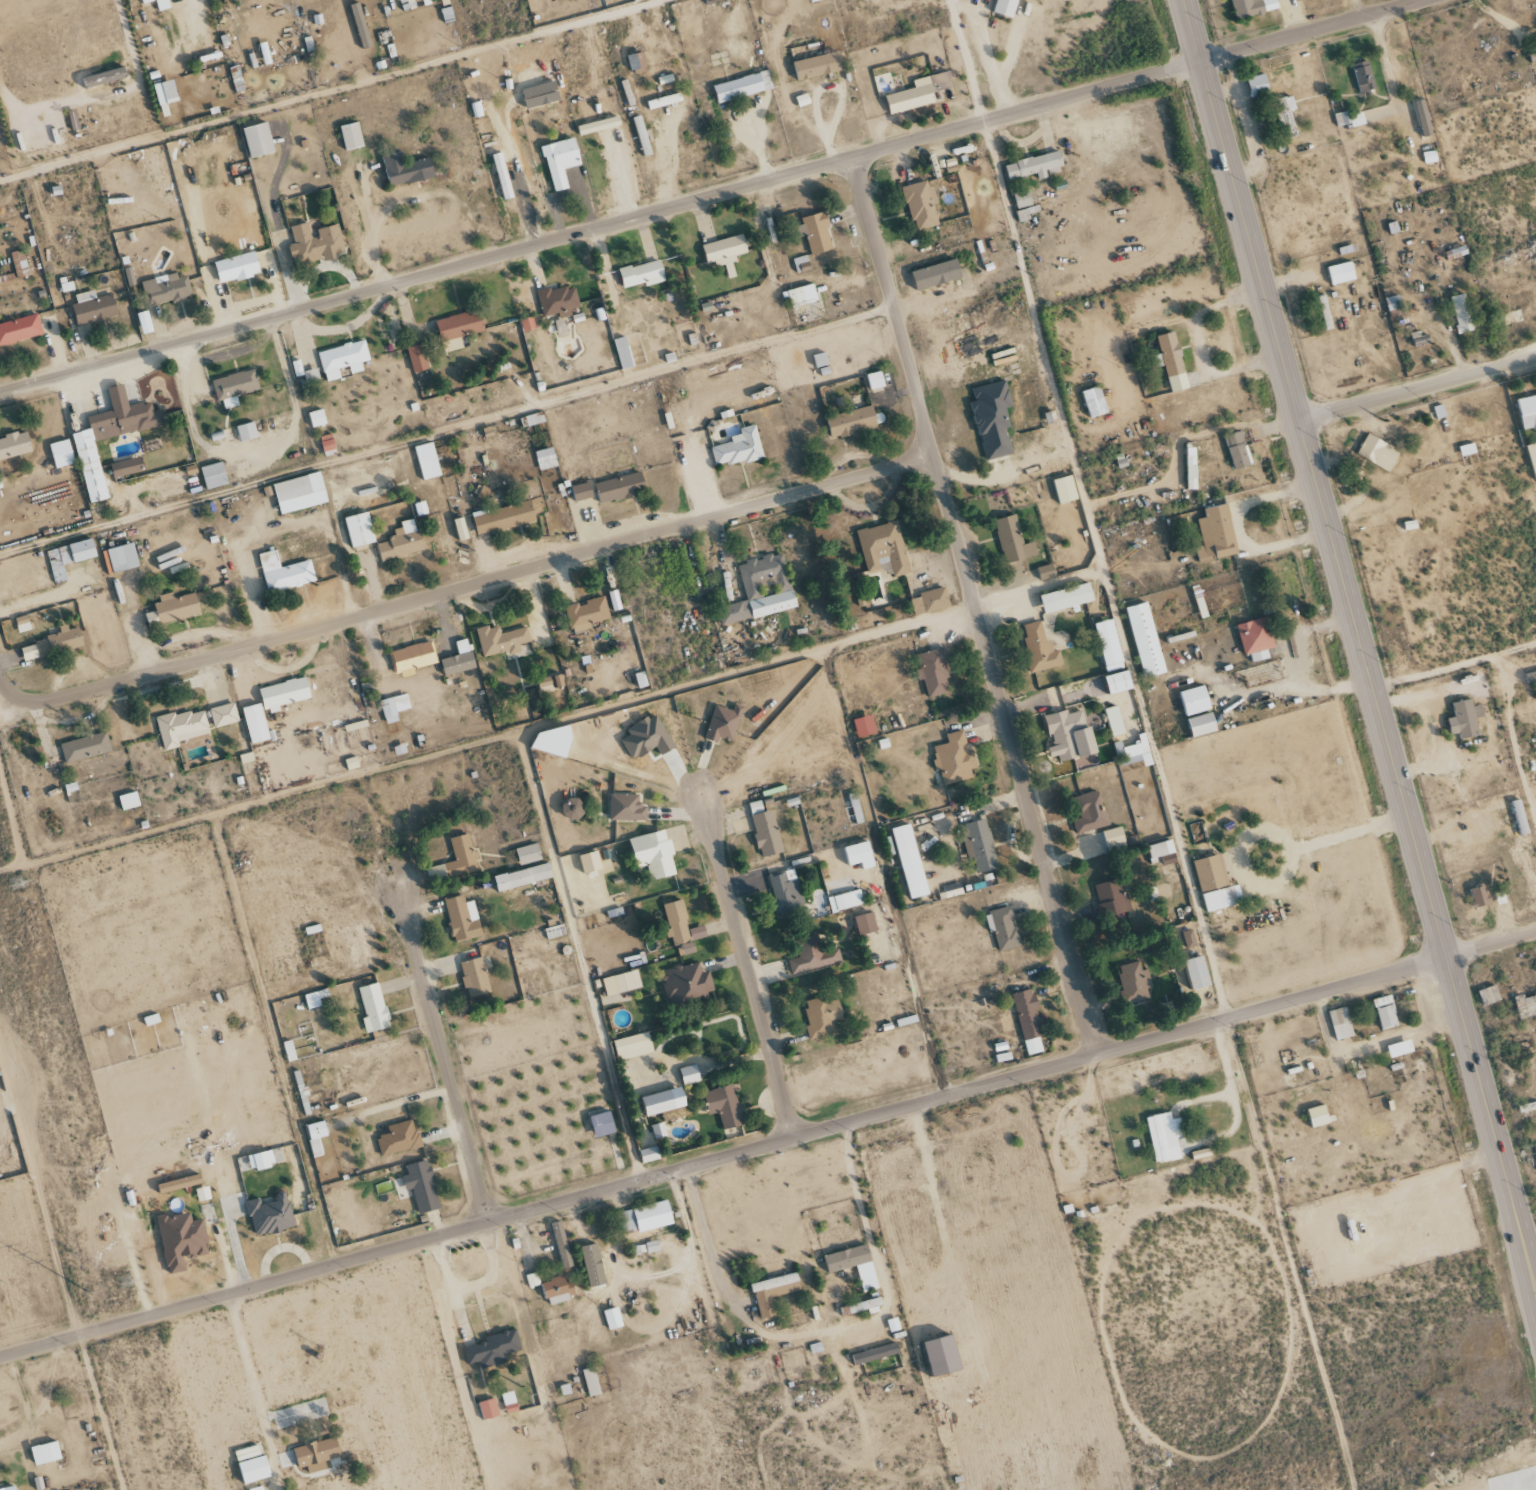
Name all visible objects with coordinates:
building: (813, 0)
building: (159, 4)
building: (1006, 7)
building: (1253, 7)
building: (361, 28)
building: (637, 62)
building: (818, 65)
building: (1363, 76)
building: (105, 77)
building: (1258, 85)
building: (741, 87)
road: (333, 90)
building: (167, 92)
building: (922, 93)
building: (664, 101)
building: (1287, 115)
building: (1349, 118)
building: (1423, 118)
building: (599, 125)
building: (351, 136)
building: (259, 140)
building: (561, 161)
building: (1036, 166)
building: (406, 169)
building: (503, 176)
road: (707, 195)
building: (1023, 199)
building: (921, 205)
building: (1026, 213)
building: (817, 233)
building: (315, 244)
building: (724, 252)
building: (20, 263)
building: (237, 267)
building: (1341, 273)
building: (642, 274)
building: (937, 274)
building: (165, 289)
building: (802, 295)
building: (558, 301)
building: (93, 308)
building: (1462, 313)
building: (145, 322)
building: (528, 324)
building: (460, 325)
building: (20, 329)
road: (1197, 346)
building: (623, 353)
building: (418, 358)
building: (343, 359)
building: (1172, 361)
building: (311, 378)
building: (876, 380)
building: (234, 387)
road: (1418, 389)
building: (1095, 402)
building: (1528, 411)
building: (317, 418)
building: (993, 418)
building: (852, 421)
building: (247, 431)
road: (445, 431)
building: (110, 436)
road: (1178, 439)
building: (14, 445)
building: (328, 445)
building: (738, 448)
building: (1238, 450)
building: (62, 453)
building: (1378, 453)
building: (1532, 456)
building: (546, 459)
building: (427, 461)
building: (1192, 466)
building: (127, 467)
building: (214, 475)
building: (620, 487)
building: (1066, 489)
building: (582, 492)
building: (301, 493)
road: (1087, 509)
building: (503, 517)
building: (360, 529)
building: (461, 529)
building: (1216, 534)
building: (1013, 540)
building: (401, 542)
building: (883, 548)
building: (69, 557)
building: (120, 558)
building: (284, 572)
building: (1046, 572)
road: (1035, 586)
road: (462, 588)
building: (760, 590)
building: (1067, 598)
building: (929, 601)
road: (970, 606)
building: (173, 609)
building: (587, 613)
building: (22, 625)
building: (1256, 638)
road: (1360, 638)
building: (500, 640)
building: (1146, 640)
building: (54, 643)
building: (1039, 648)
building: (1111, 650)
building: (412, 658)
building: (458, 663)
building: (934, 672)
building: (1531, 677)
building: (557, 682)
building: (1119, 682)
building: (545, 685)
building: (285, 694)
building: (1196, 700)
building: (389, 711)
building: (223, 715)
building: (1463, 720)
building: (1114, 721)
building: (255, 723)
building: (723, 723)
building: (1203, 725)
building: (864, 726)
building: (181, 727)
road: (1309, 727)
building: (1070, 735)
building: (647, 738)
building: (85, 747)
building: (1134, 753)
building: (954, 759)
building: (129, 800)
building: (627, 808)
building: (574, 809)
building: (1088, 812)
building: (1520, 817)
road: (1322, 830)
building: (766, 834)
building: (1114, 837)
building: (979, 845)
building: (1163, 852)
building: (528, 854)
building: (654, 854)
road: (553, 855)
building: (860, 855)
building: (457, 860)
building: (909, 861)
building: (590, 862)
building: (523, 877)
building: (1216, 884)
power tower: (14, 886)
building: (785, 893)
building: (1479, 896)
building: (1111, 898)
building: (845, 901)
building: (462, 919)
building: (677, 923)
building: (866, 924)
building: (1002, 928)
building: (1189, 939)
building: (813, 955)
road: (743, 961)
building: (1198, 973)
building: (475, 978)
building: (1133, 982)
building: (620, 985)
building: (687, 986)
building: (1489, 996)
building: (315, 998)
building: (1525, 1006)
building: (374, 1008)
building: (1386, 1012)
building: (821, 1016)
building: (1029, 1022)
building: (1341, 1024)
road: (438, 1041)
road: (1371, 1044)
building: (633, 1046)
building: (689, 1075)
building: (664, 1101)
building: (724, 1106)
road: (1282, 1108)
building: (1318, 1116)
building: (602, 1124)
building: (658, 1131)
building: (317, 1137)
building: (1165, 1137)
building: (399, 1138)
road: (768, 1146)
building: (648, 1154)
building: (261, 1161)
building: (180, 1184)
building: (421, 1186)
road: (38, 1194)
building: (203, 1194)
road: (982, 1196)
building: (271, 1215)
building: (646, 1218)
road: (704, 1238)
building: (181, 1240)
building: (562, 1245)
building: (854, 1265)
building: (594, 1266)
power tower: (125, 1284)
building: (558, 1290)
power tower: (84, 1293)
building: (773, 1293)
building: (864, 1306)
building: (613, 1319)
building: (492, 1349)
building: (875, 1354)
building: (945, 1357)
road: (248, 1370)
building: (591, 1381)
building: (509, 1402)
building: (488, 1409)
road: (100, 1412)
building: (46, 1453)
building: (255, 1469)
building: (257, 1488)

